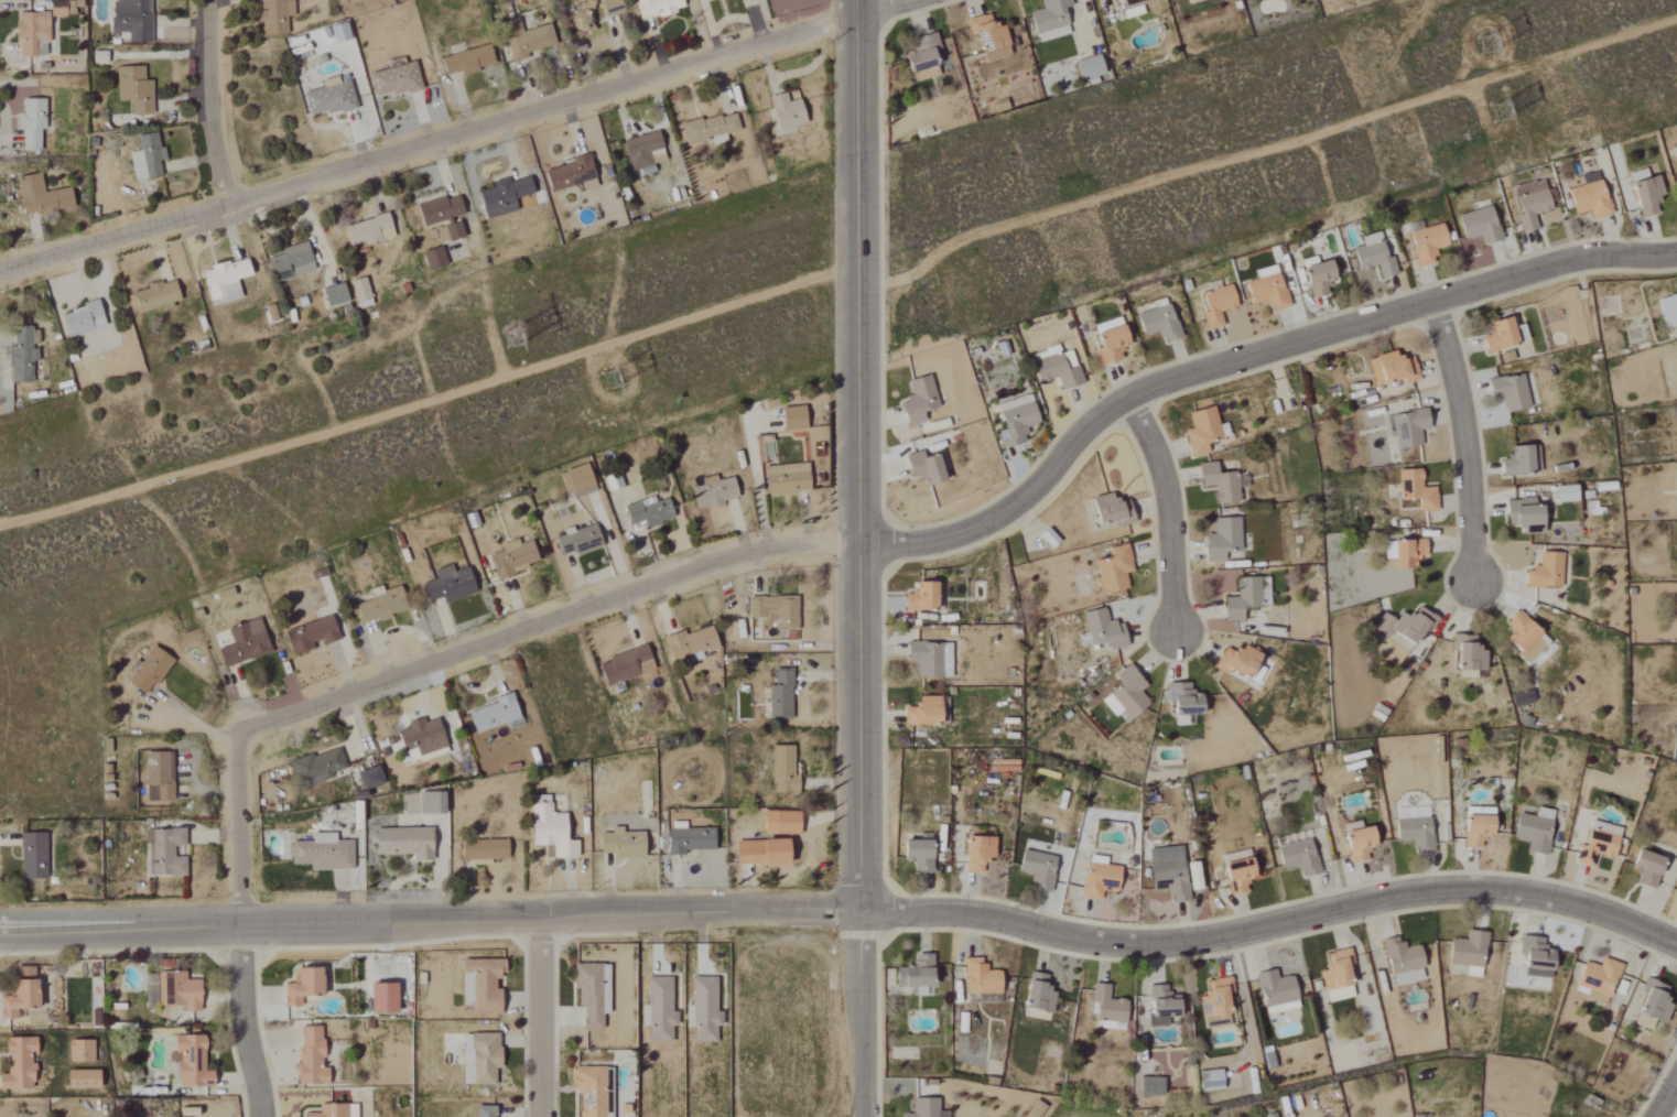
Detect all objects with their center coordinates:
building: (1193, 1)
building: (613, 7)
building: (63, 8)
building: (658, 8)
building: (1135, 8)
building: (275, 17)
building: (584, 17)
building: (132, 19)
building: (1051, 20)
building: (33, 33)
building: (340, 33)
building: (991, 36)
building: (529, 41)
power tower: (1495, 47)
building: (924, 54)
building: (100, 57)
building: (467, 58)
building: (1092, 67)
building: (397, 78)
building: (136, 89)
building: (331, 98)
road: (214, 101)
power tower: (1514, 101)
building: (1002, 106)
building: (789, 111)
building: (32, 123)
building: (711, 129)
road: (451, 135)
building: (646, 151)
building: (149, 155)
building: (573, 175)
building: (1642, 192)
building: (505, 195)
building: (1584, 195)
building: (42, 196)
building: (1533, 204)
building: (440, 209)
building: (1482, 226)
building: (370, 231)
building: (455, 231)
building: (1429, 243)
building: (1375, 256)
building: (435, 259)
building: (292, 263)
building: (1324, 275)
building: (227, 281)
building: (1269, 291)
building: (361, 293)
building: (336, 295)
building: (158, 296)
building: (1219, 305)
building: (1668, 313)
building: (84, 319)
building: (1160, 323)
power tower: (517, 332)
building: (1497, 334)
building: (1113, 341)
building: (1503, 356)
building: (23, 357)
road: (1242, 357)
building: (1389, 367)
building: (1059, 368)
power tower: (616, 376)
building: (1506, 391)
road: (428, 398)
building: (921, 401)
building: (796, 419)
building: (1018, 420)
building: (1406, 427)
building: (1203, 432)
road: (1468, 434)
road: (857, 453)
building: (1518, 459)
building: (928, 468)
building: (788, 478)
building: (577, 480)
building: (1222, 482)
building: (1413, 489)
building: (715, 492)
building: (1560, 494)
building: (1112, 509)
road: (1172, 509)
building: (649, 512)
building: (1519, 513)
building: (1050, 538)
building: (1224, 539)
building: (580, 540)
building: (1403, 552)
building: (515, 558)
building: (1115, 570)
building: (1543, 571)
building: (451, 584)
building: (1242, 597)
building: (923, 598)
building: (382, 605)
building: (776, 610)
road: (545, 623)
building: (1410, 627)
building: (1103, 629)
building: (312, 635)
building: (1521, 637)
building: (246, 643)
building: (692, 644)
building: (1464, 655)
building: (932, 660)
building: (1231, 660)
building: (628, 666)
building: (151, 670)
building: (1123, 693)
building: (782, 695)
building: (1180, 698)
building: (927, 713)
building: (496, 715)
building: (424, 740)
building: (317, 768)
building: (783, 770)
building: (159, 777)
building: (371, 778)
building: (433, 804)
building: (782, 823)
building: (552, 829)
building: (1472, 829)
building: (1532, 829)
building: (1418, 833)
building: (690, 839)
building: (1353, 841)
building: (1595, 842)
building: (407, 843)
building: (624, 844)
building: (166, 852)
building: (322, 852)
building: (485, 852)
building: (764, 853)
building: (972, 853)
building: (919, 855)
building: (1232, 856)
building: (1296, 856)
building: (34, 857)
building: (1643, 867)
building: (1036, 868)
building: (1233, 875)
building: (1095, 877)
building: (1170, 877)
building: (1676, 901)
road: (846, 904)
road: (242, 930)
building: (1467, 952)
building: (1533, 957)
building: (1399, 961)
building: (1333, 975)
building: (916, 976)
building: (977, 977)
building: (1594, 979)
building: (486, 984)
building: (304, 986)
building: (180, 991)
building: (1273, 991)
building: (594, 993)
building: (1036, 993)
building: (1020, 994)
building: (1212, 996)
building: (385, 997)
building: (21, 998)
building: (1157, 1005)
building: (1648, 1005)
building: (661, 1009)
building: (704, 1010)
road: (862, 1011)
road: (548, 1016)
building: (1214, 1021)
building: (82, 1051)
building: (312, 1056)
building: (487, 1058)
building: (192, 1062)
building: (20, 1064)
building: (468, 1071)
building: (84, 1078)
building: (1207, 1080)
building: (1147, 1085)
building: (594, 1093)
road: (1668, 1099)
building: (921, 1108)
building: (336, 1110)
building: (190, 1111)
building: (486, 1111)

